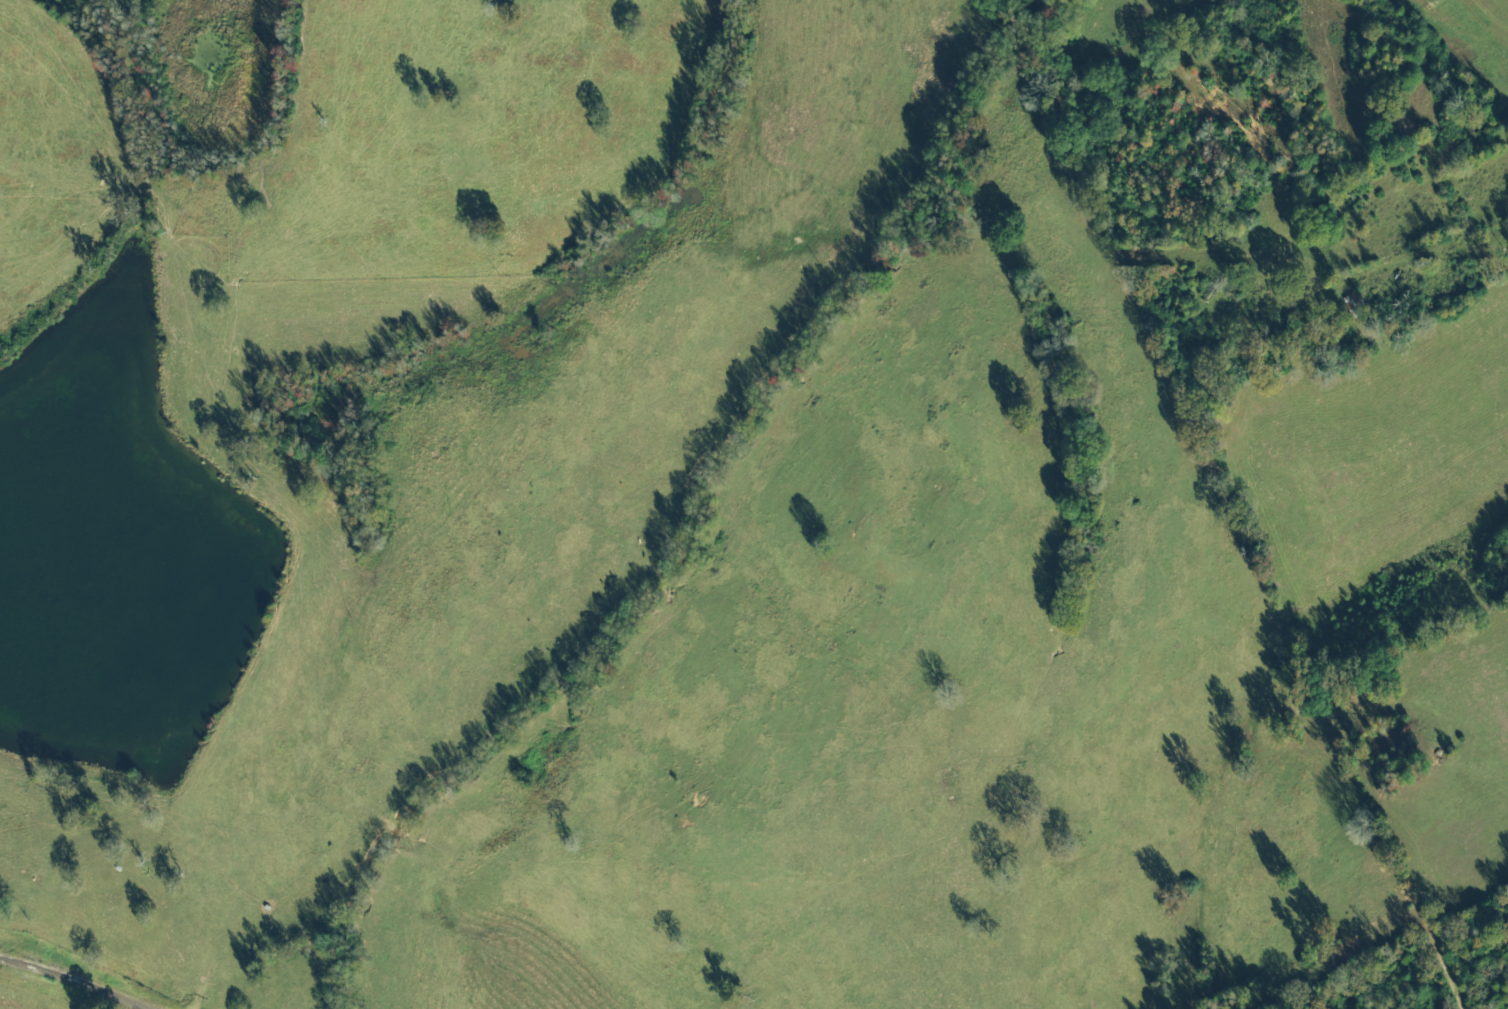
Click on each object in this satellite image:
road: (184, 821)
road: (48, 991)

